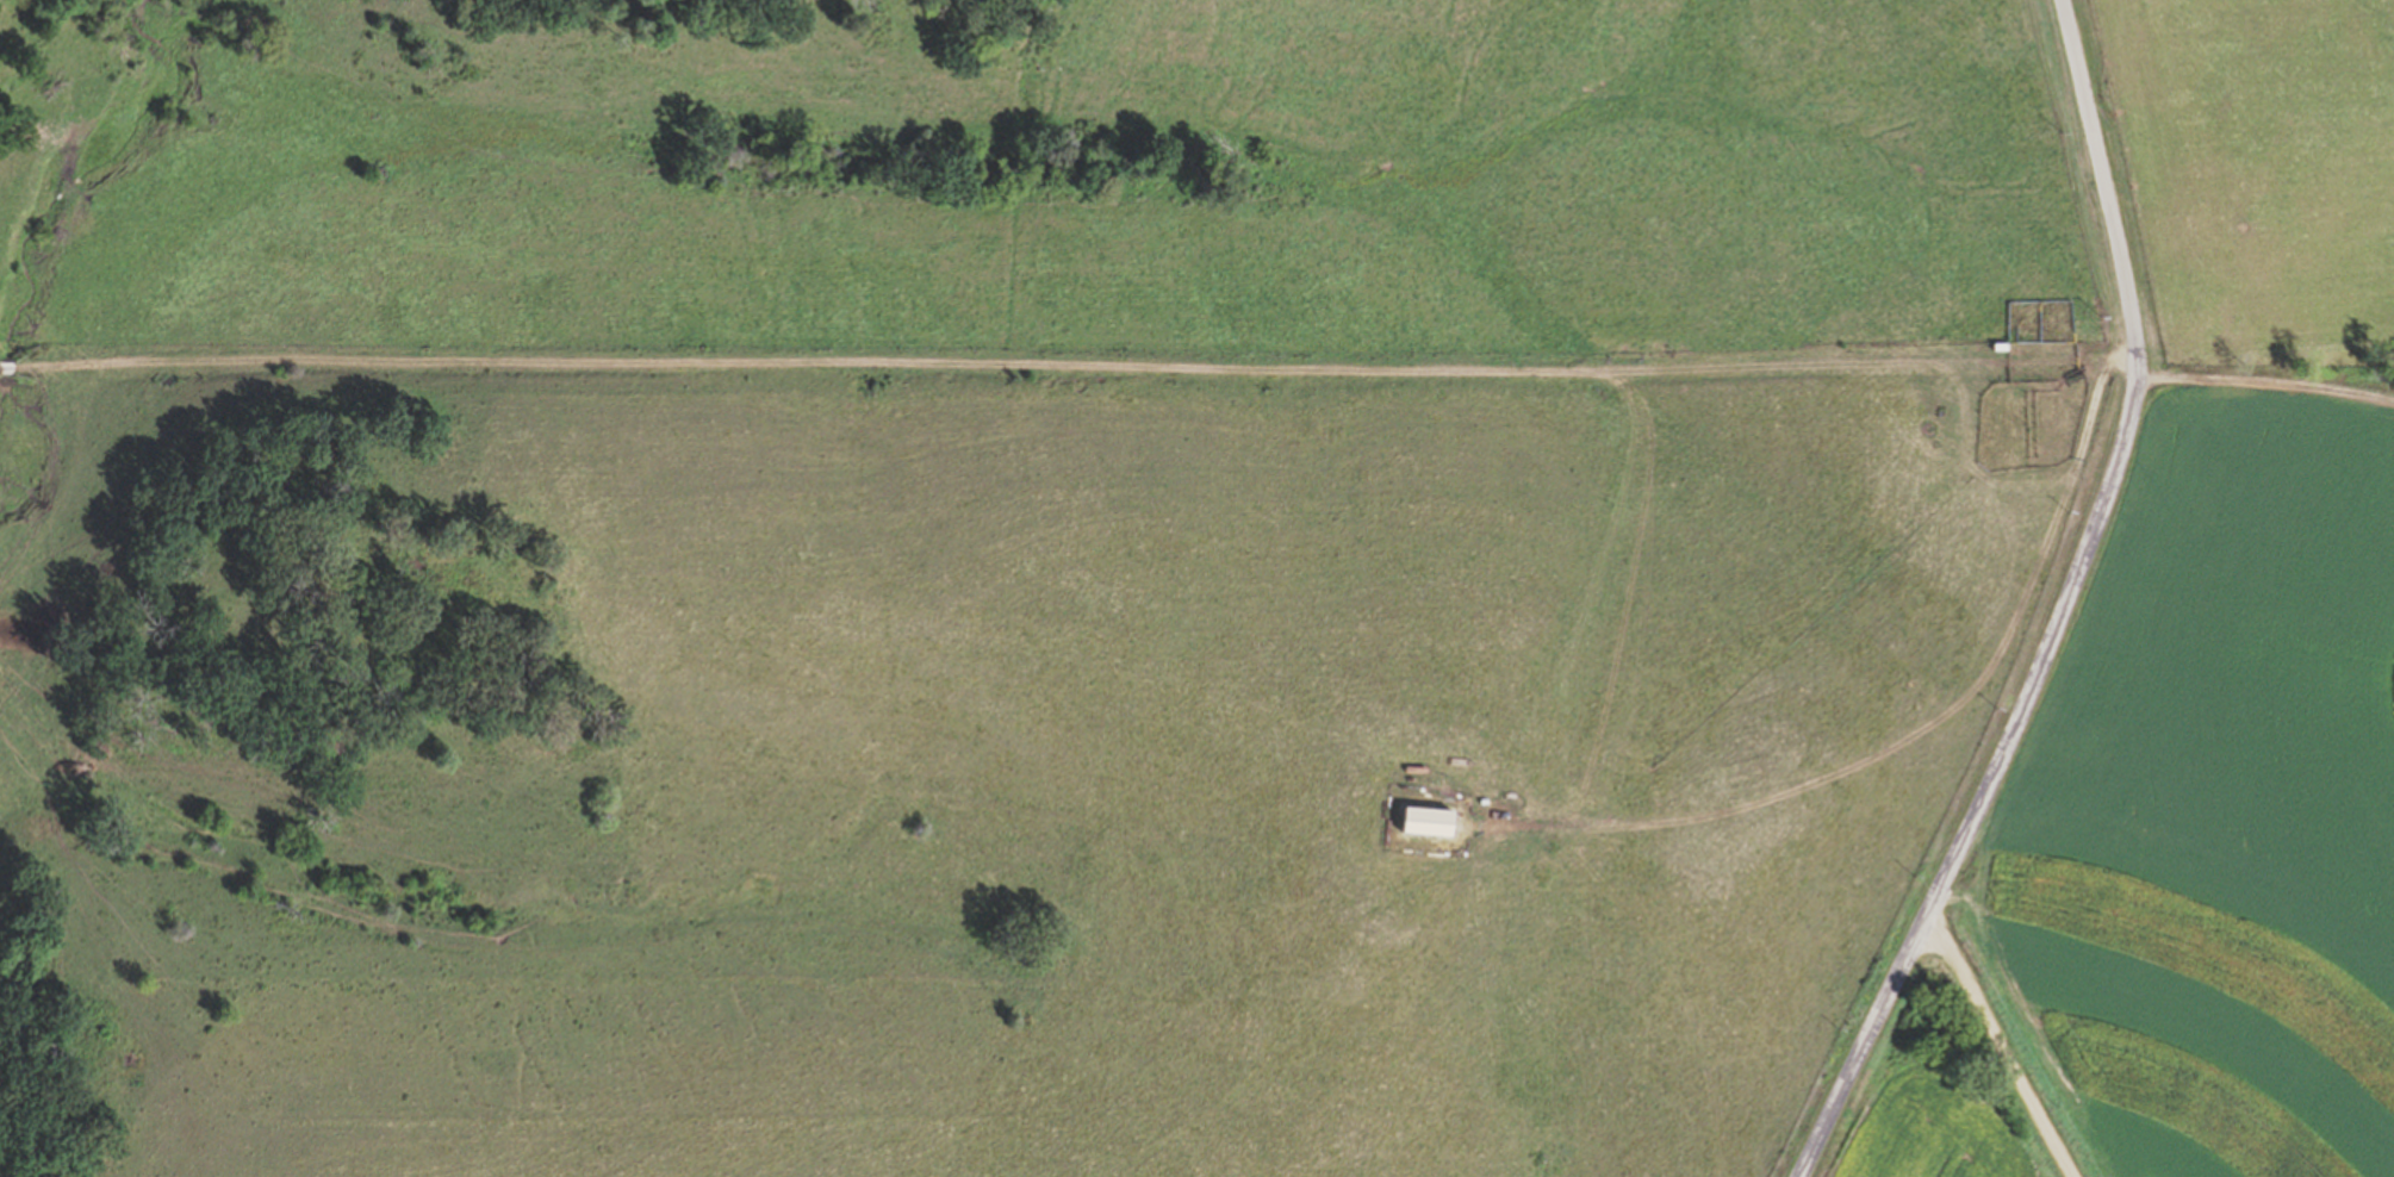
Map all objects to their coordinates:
road: (2056, 609)
road: (2034, 1028)

